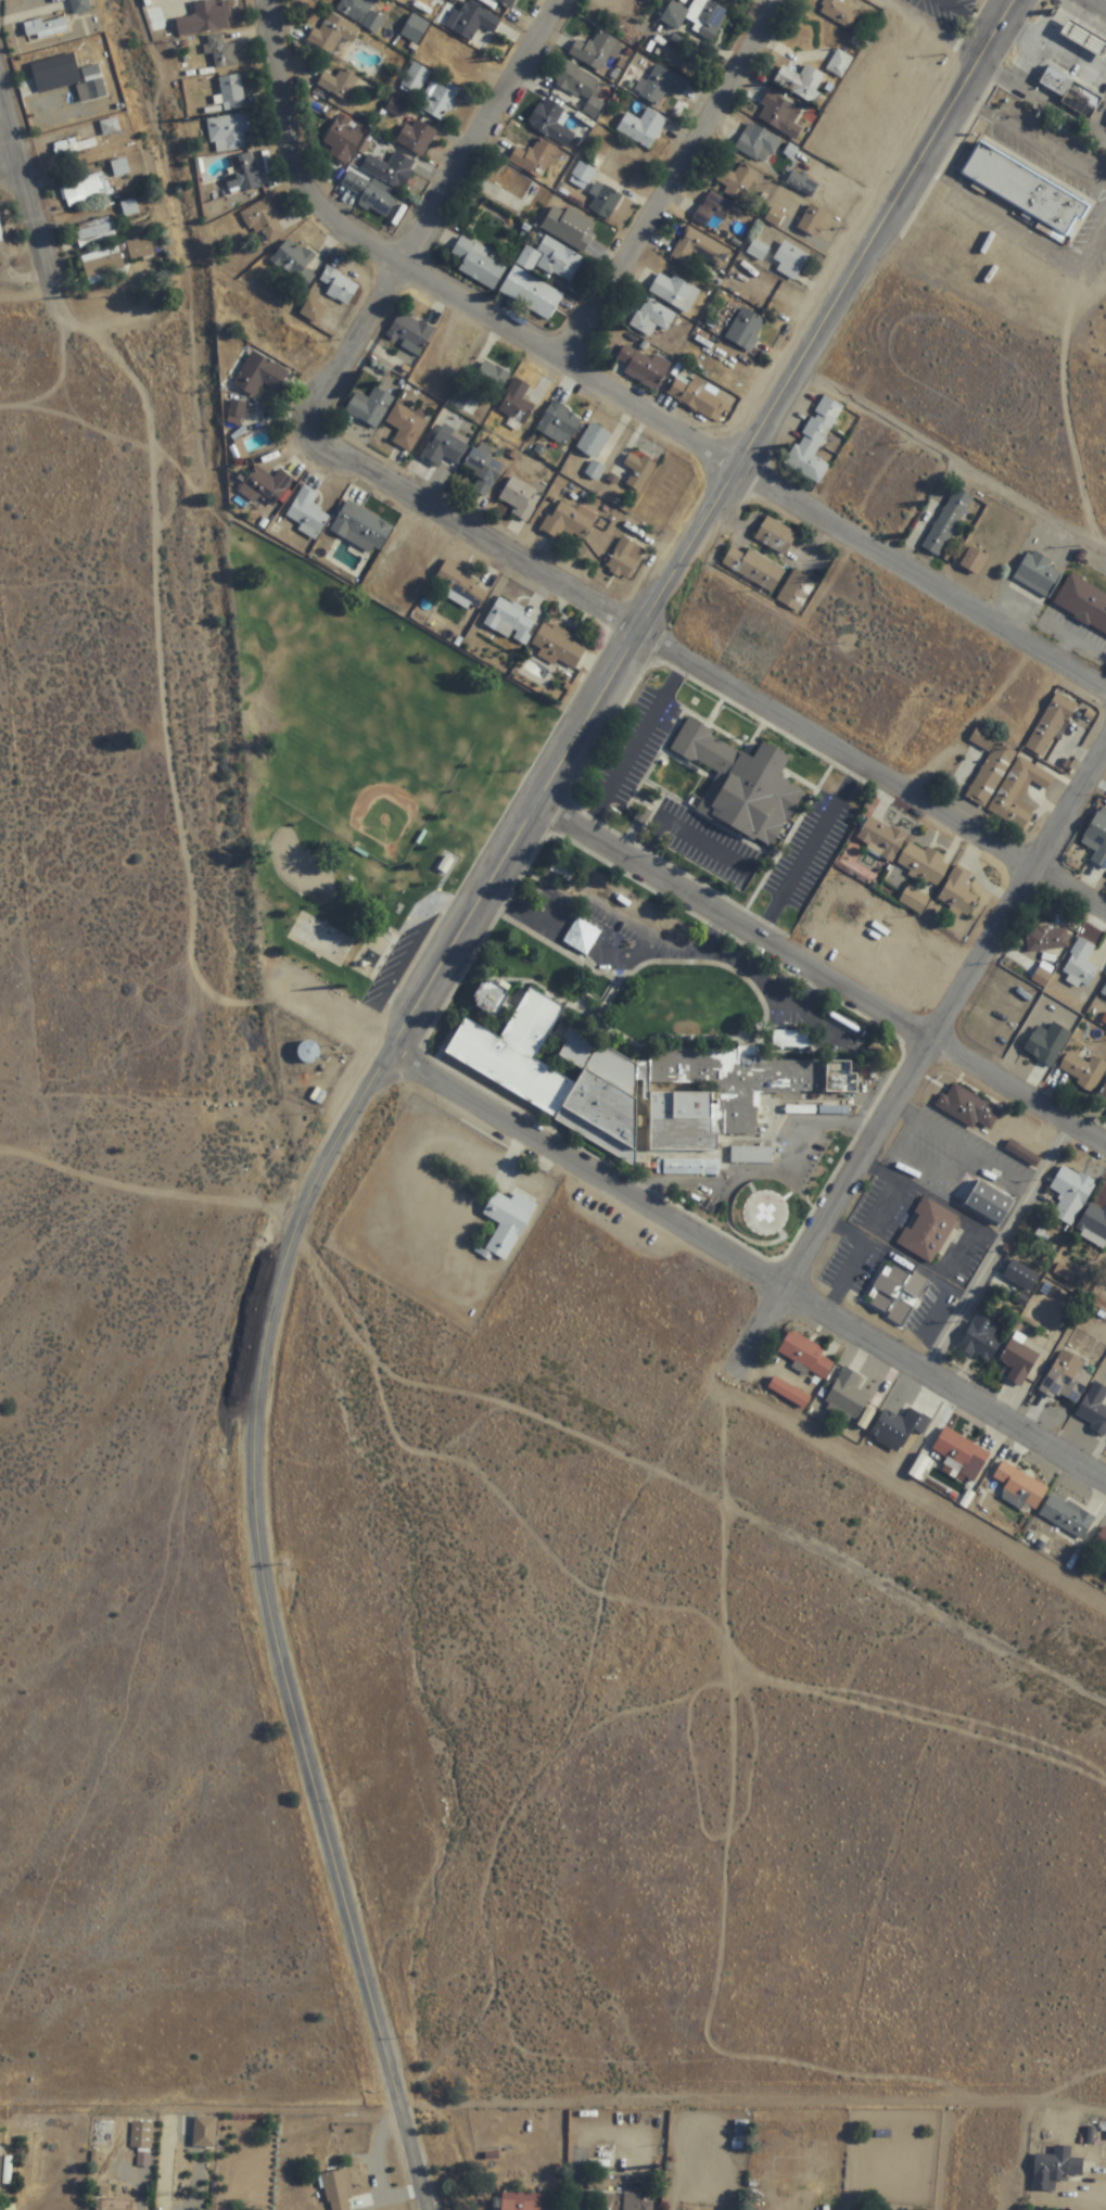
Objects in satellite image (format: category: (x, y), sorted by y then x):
building: (727, 2)
building: (506, 3)
road: (1018, 3)
building: (80, 7)
road: (1092, 8)
road: (953, 11)
road: (1085, 12)
building: (838, 13)
building: (360, 14)
road: (1093, 17)
building: (206, 18)
building: (704, 20)
crop: (163, 21)
road: (1101, 21)
building: (472, 24)
building: (46, 28)
road: (1022, 33)
building: (333, 36)
road: (1071, 37)
gas station: (1092, 41)
road: (1080, 42)
road: (1086, 46)
building: (221, 52)
building: (597, 52)
road: (1095, 52)
road: (1069, 61)
road: (1098, 61)
building: (839, 64)
building: (46, 71)
road: (1104, 75)
building: (415, 78)
building: (800, 81)
building: (93, 82)
building: (341, 86)
building: (660, 86)
building: (579, 88)
building: (231, 92)
building: (441, 100)
building: (1082, 100)
building: (395, 107)
road: (987, 112)
building: (780, 115)
building: (550, 123)
building: (110, 127)
building: (643, 128)
building: (229, 132)
building: (416, 137)
building: (342, 143)
building: (758, 144)
building: (74, 147)
road: (1056, 153)
building: (535, 160)
building: (119, 168)
building: (391, 170)
building: (246, 173)
building: (582, 176)
building: (736, 181)
road: (674, 185)
building: (802, 185)
road: (11, 186)
building: (86, 189)
building: (370, 196)
building: (1037, 196)
building: (605, 202)
building: (129, 207)
building: (712, 209)
road: (438, 213)
building: (263, 220)
building: (813, 221)
building: (569, 227)
building: (94, 233)
road: (39, 234)
road: (886, 237)
building: (0, 238)
building: (141, 249)
building: (700, 249)
building: (758, 251)
road: (1102, 256)
building: (554, 262)
building: (790, 262)
building: (102, 263)
building: (294, 264)
road: (1102, 264)
building: (479, 265)
building: (336, 287)
road: (431, 288)
building: (674, 292)
building: (531, 294)
building: (652, 318)
building: (746, 330)
building: (409, 333)
building: (446, 354)
building: (641, 368)
building: (259, 376)
building: (492, 381)
building: (694, 396)
road: (1075, 399)
building: (516, 404)
building: (369, 408)
building: (236, 411)
building: (559, 424)
building: (406, 428)
building: (593, 442)
building: (814, 442)
building: (444, 449)
road: (955, 465)
building: (483, 470)
building: (595, 471)
building: (638, 472)
building: (265, 487)
building: (521, 499)
building: (306, 515)
building: (568, 521)
building: (948, 523)
building: (360, 529)
building: (775, 536)
building: (625, 559)
building: (972, 563)
building: (753, 570)
building: (1039, 574)
road: (924, 583)
building: (460, 588)
building: (797, 593)
building: (1082, 605)
building: (511, 622)
road: (637, 640)
building: (558, 647)
road: (704, 676)
building: (1051, 726)
building: (1063, 731)
building: (1001, 774)
park: (363, 775)
road: (88, 776)
park: (373, 778)
building: (741, 786)
building: (1030, 799)
road: (178, 809)
building: (880, 839)
building: (1097, 839)
building: (924, 865)
building: (958, 893)
road: (613, 910)
road: (1020, 910)
road: (735, 924)
road: (711, 933)
building: (1046, 940)
road: (671, 952)
building: (1081, 966)
road: (810, 993)
building: (1104, 993)
building: (491, 1000)
building: (1047, 1044)
building: (307, 1054)
building: (1084, 1070)
building: (841, 1078)
building: (630, 1088)
building: (1103, 1093)
road: (1017, 1095)
building: (970, 1107)
building: (826, 1112)
road: (967, 1143)
building: (1019, 1151)
building: (751, 1156)
road: (919, 1165)
road: (761, 1168)
building: (1070, 1193)
building: (989, 1202)
road: (828, 1211)
road: (651, 1212)
helipad: (764, 1214)
building: (507, 1223)
building: (1093, 1225)
building: (928, 1230)
road: (997, 1252)
road: (959, 1261)
road: (912, 1268)
building: (1021, 1274)
road: (843, 1278)
building: (899, 1295)
building: (980, 1342)
building: (805, 1354)
building: (1019, 1360)
building: (1066, 1377)
building: (789, 1393)
building: (847, 1395)
building: (1094, 1407)
building: (898, 1428)
building: (961, 1453)
road: (256, 1487)
building: (1019, 1487)
building: (1067, 1515)
building: (1102, 1540)
road: (1014, 2091)
building: (204, 2132)
building: (572, 2133)
building: (140, 2135)
building: (739, 2135)
building: (605, 2152)
building: (1055, 2168)
building: (4, 2171)
building: (336, 2190)
building: (520, 2200)
building: (626, 2202)
building: (112, 2205)

